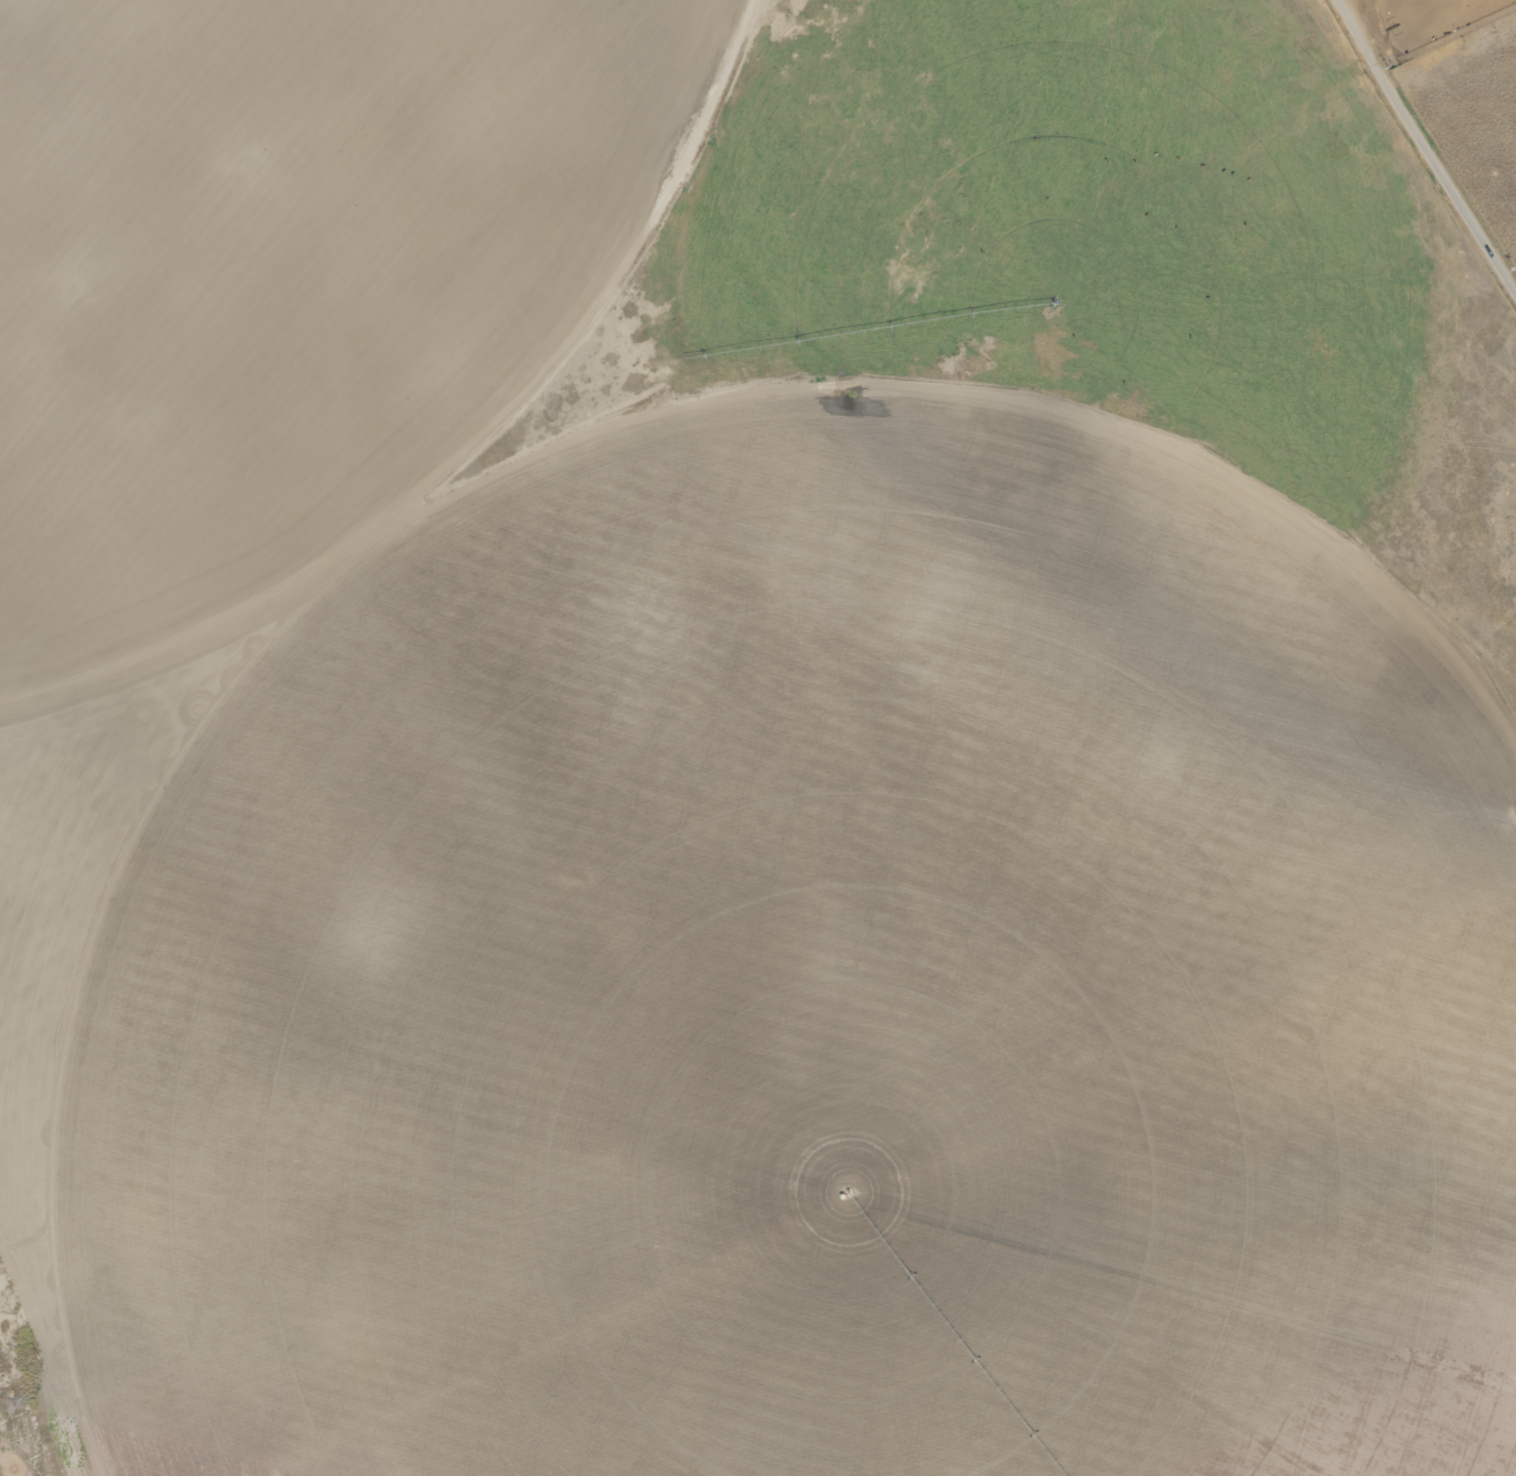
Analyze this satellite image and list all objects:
road: (1426, 145)

